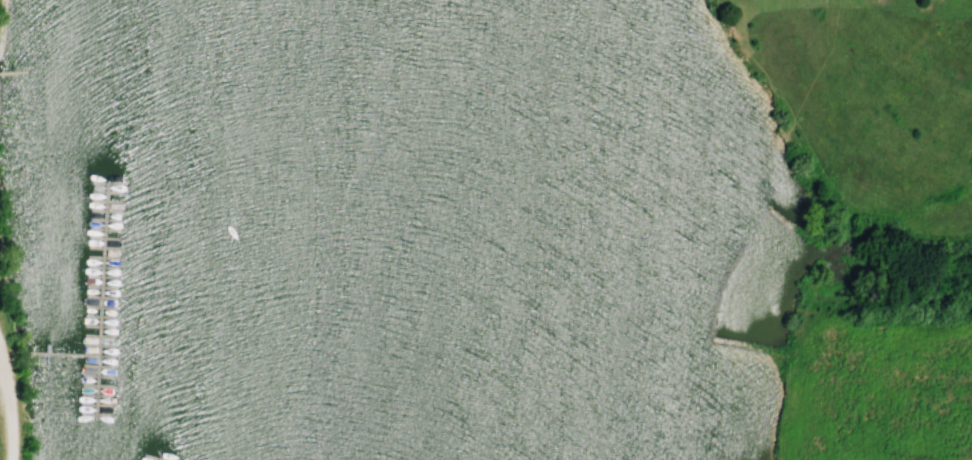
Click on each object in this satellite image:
park: (486, 230)
road: (1, 432)

